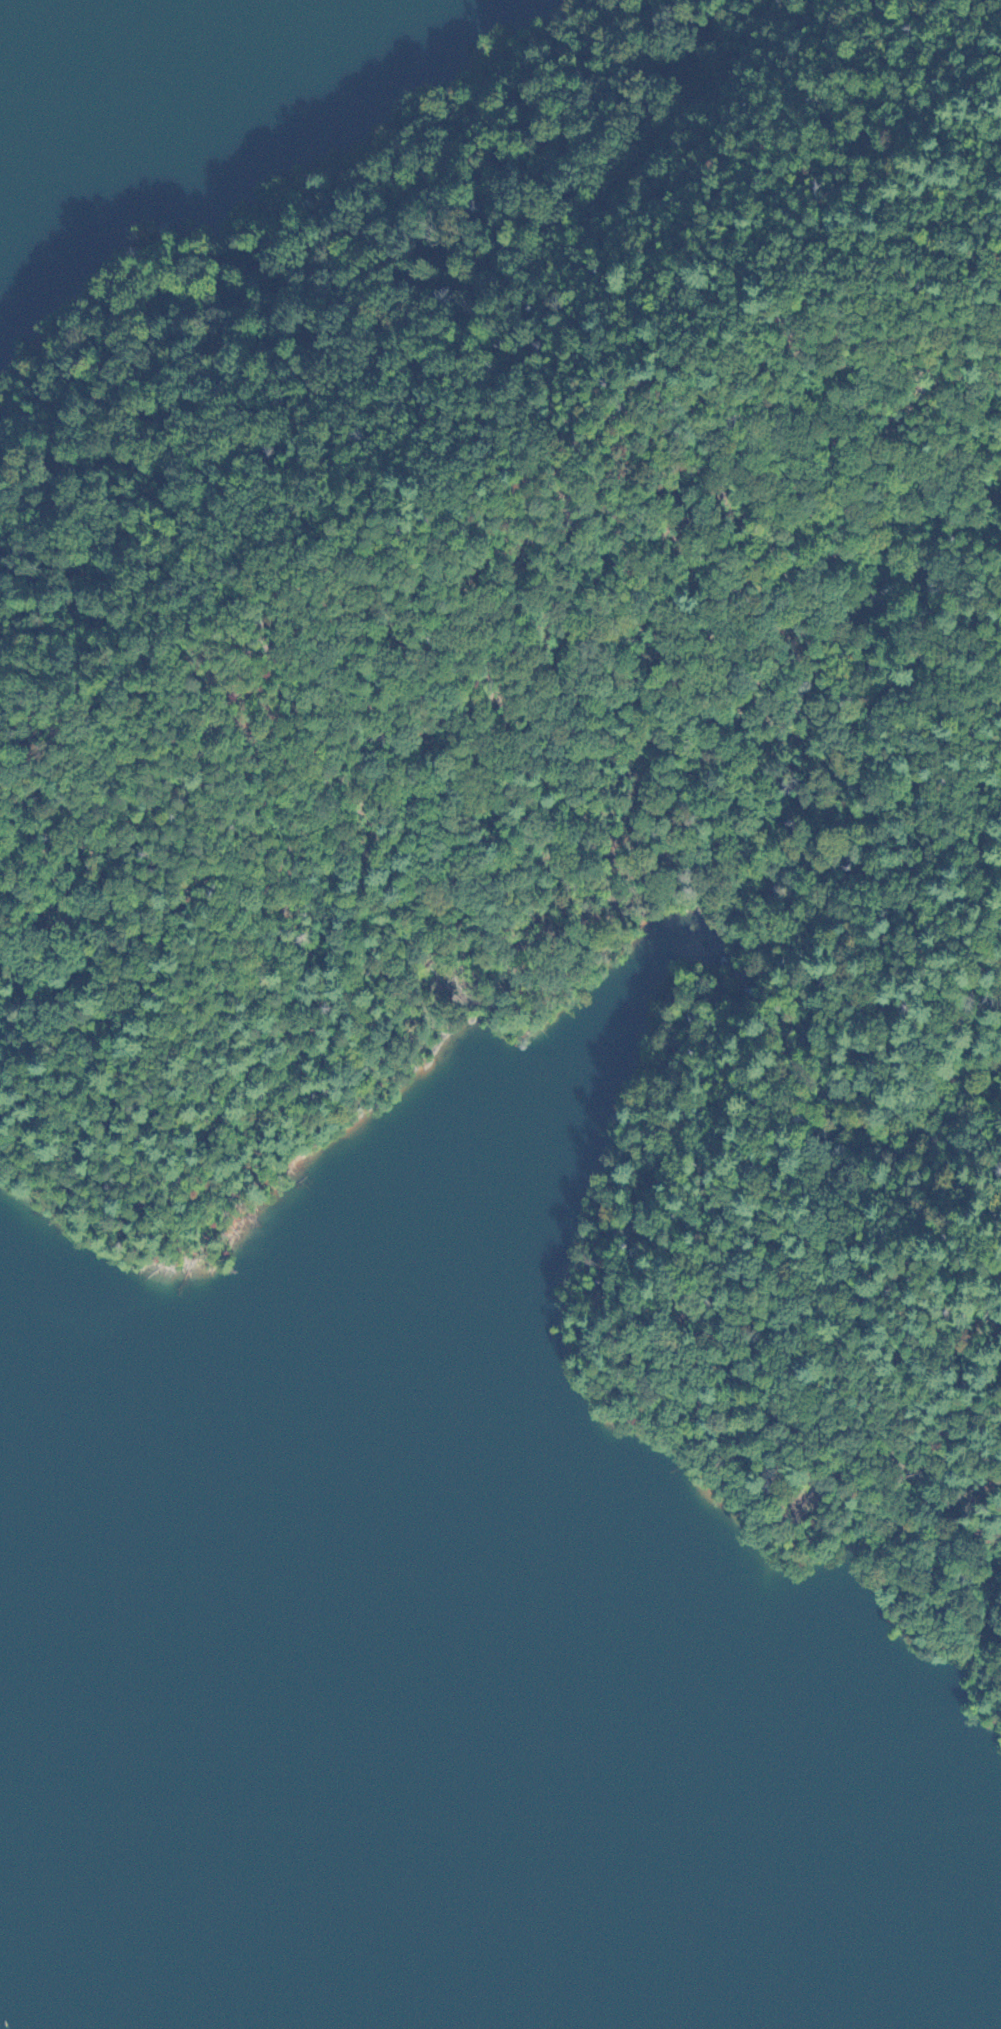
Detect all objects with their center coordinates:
road: (599, 721)

